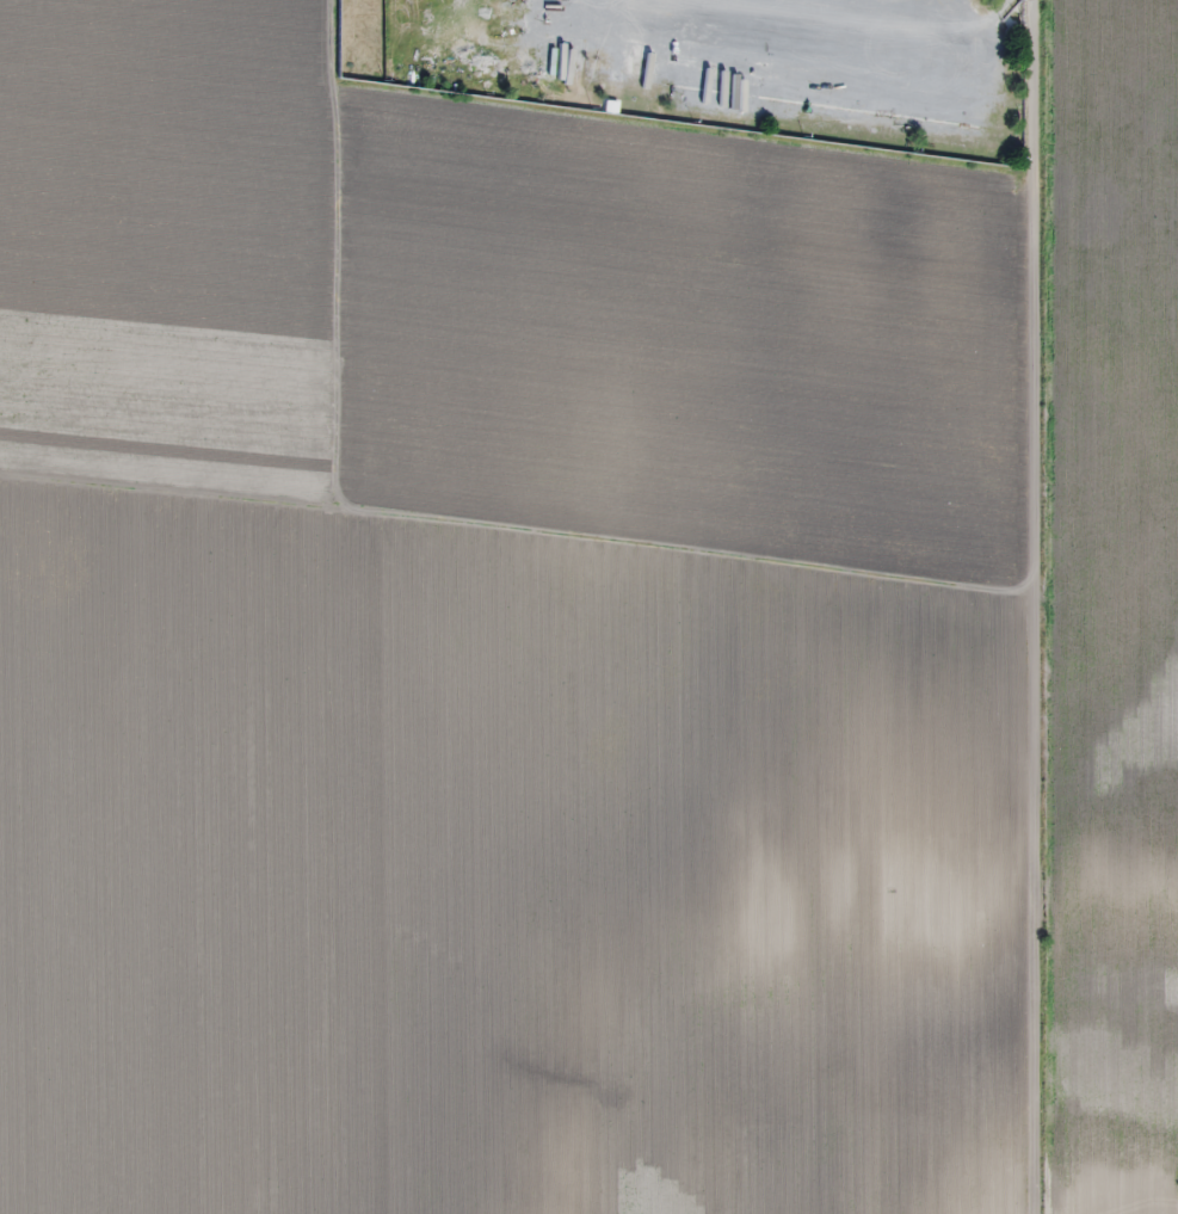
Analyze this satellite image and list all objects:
road: (1034, 76)

